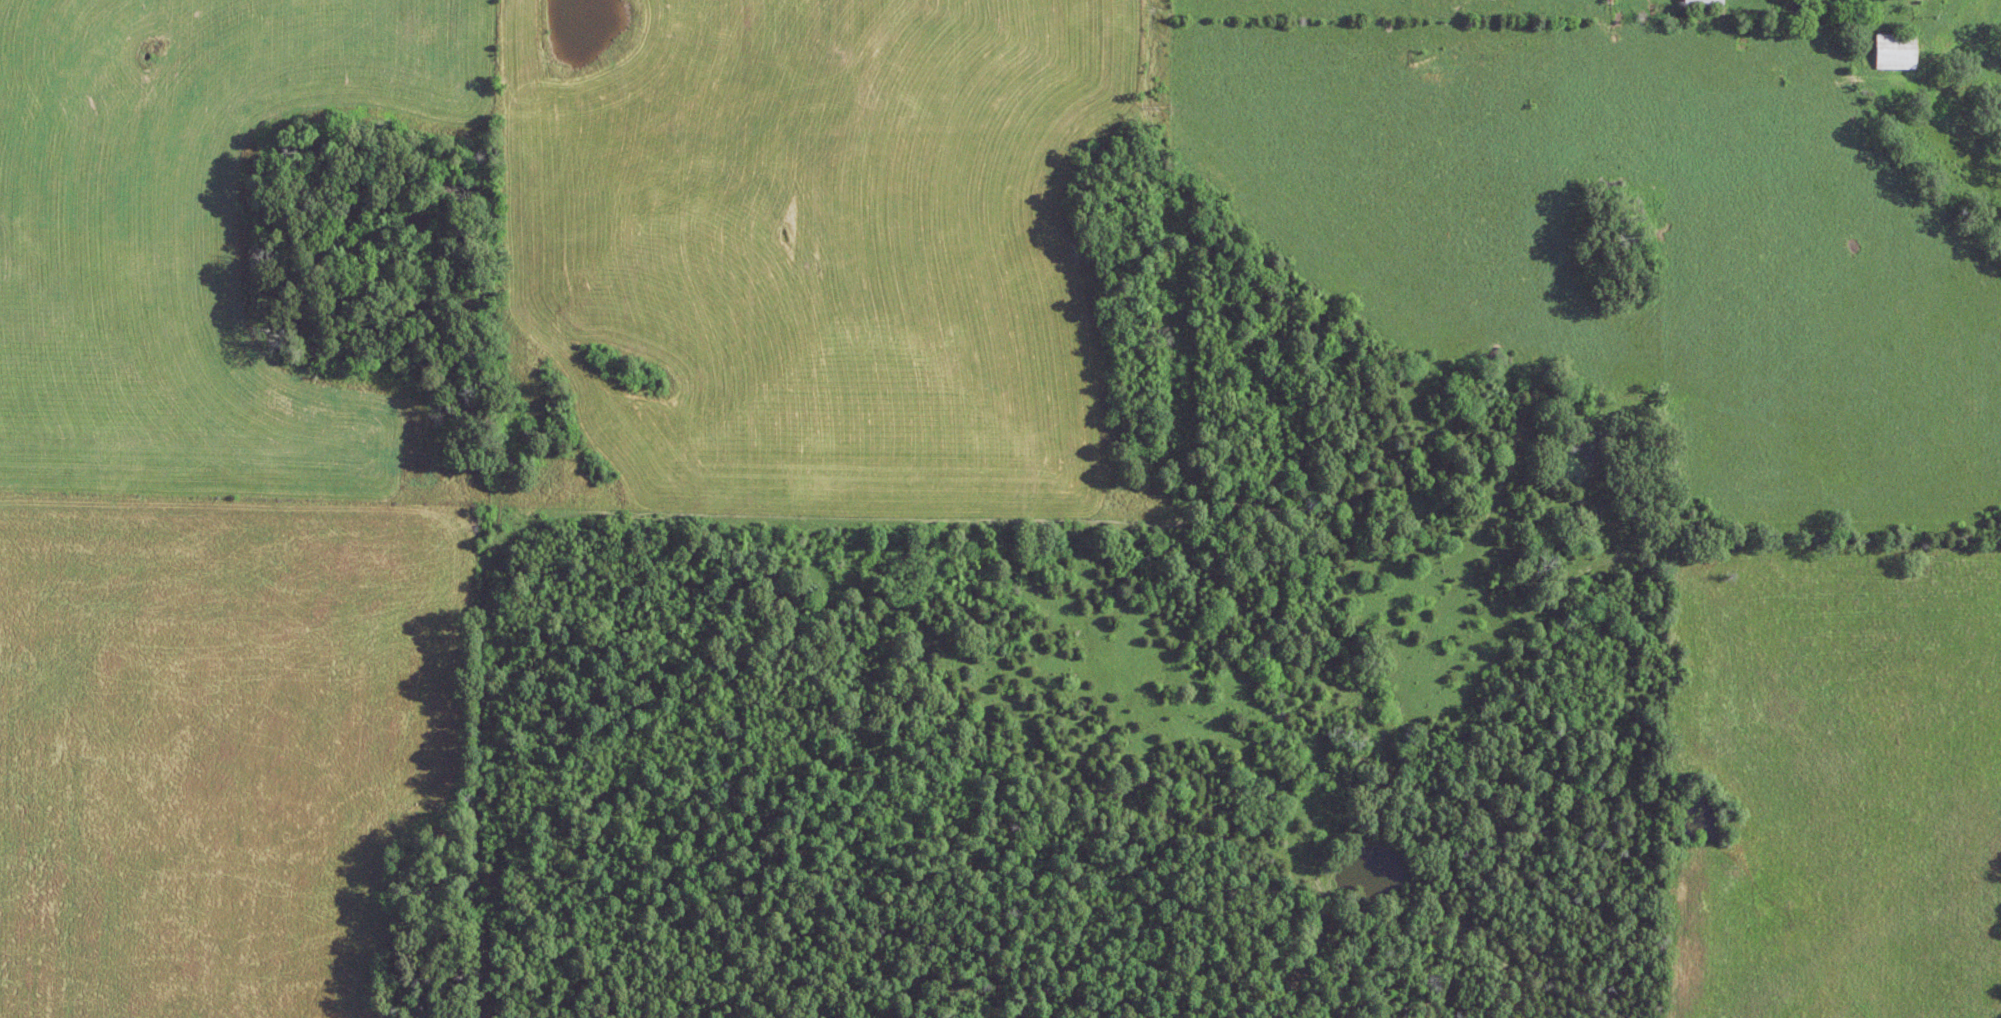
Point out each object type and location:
building: (1703, 6)
building: (1896, 55)

